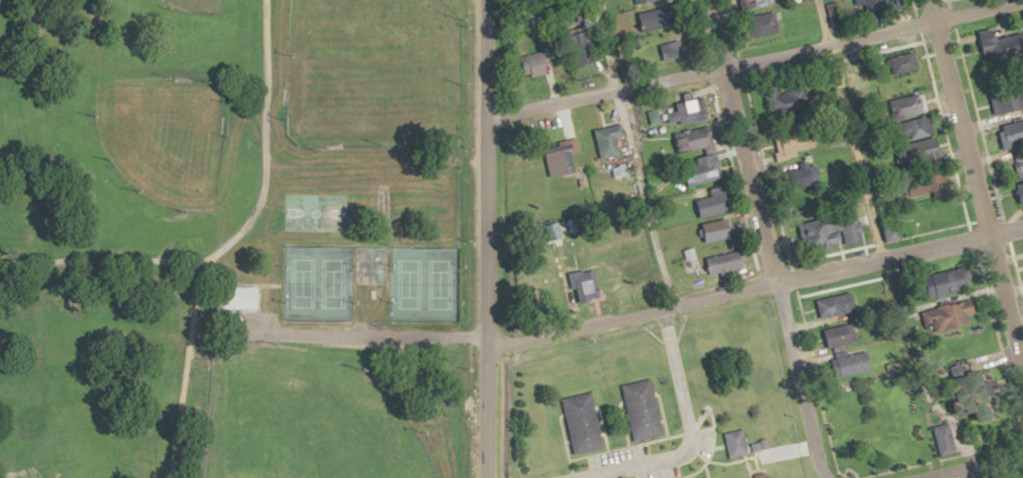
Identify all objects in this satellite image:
building: (640, 1)
building: (754, 3)
park: (198, 5)
building: (876, 5)
building: (651, 20)
building: (664, 46)
road: (751, 59)
park: (369, 72)
building: (1022, 100)
building: (910, 108)
building: (919, 127)
road: (849, 129)
park: (160, 139)
building: (693, 140)
building: (608, 142)
building: (791, 147)
building: (931, 150)
road: (630, 153)
building: (1014, 154)
building: (561, 163)
building: (701, 169)
road: (975, 180)
building: (711, 202)
building: (717, 229)
building: (833, 234)
park: (232, 238)
road: (484, 238)
road: (765, 239)
road: (227, 240)
building: (724, 262)
building: (953, 280)
park: (315, 282)
park: (421, 282)
building: (582, 282)
road: (754, 288)
building: (834, 304)
building: (955, 314)
road: (376, 335)
building: (840, 335)
building: (852, 363)
building: (977, 394)
building: (641, 409)
park: (301, 419)
building: (582, 423)
road: (687, 435)
building: (945, 439)
building: (735, 443)
road: (970, 466)
building: (704, 477)

